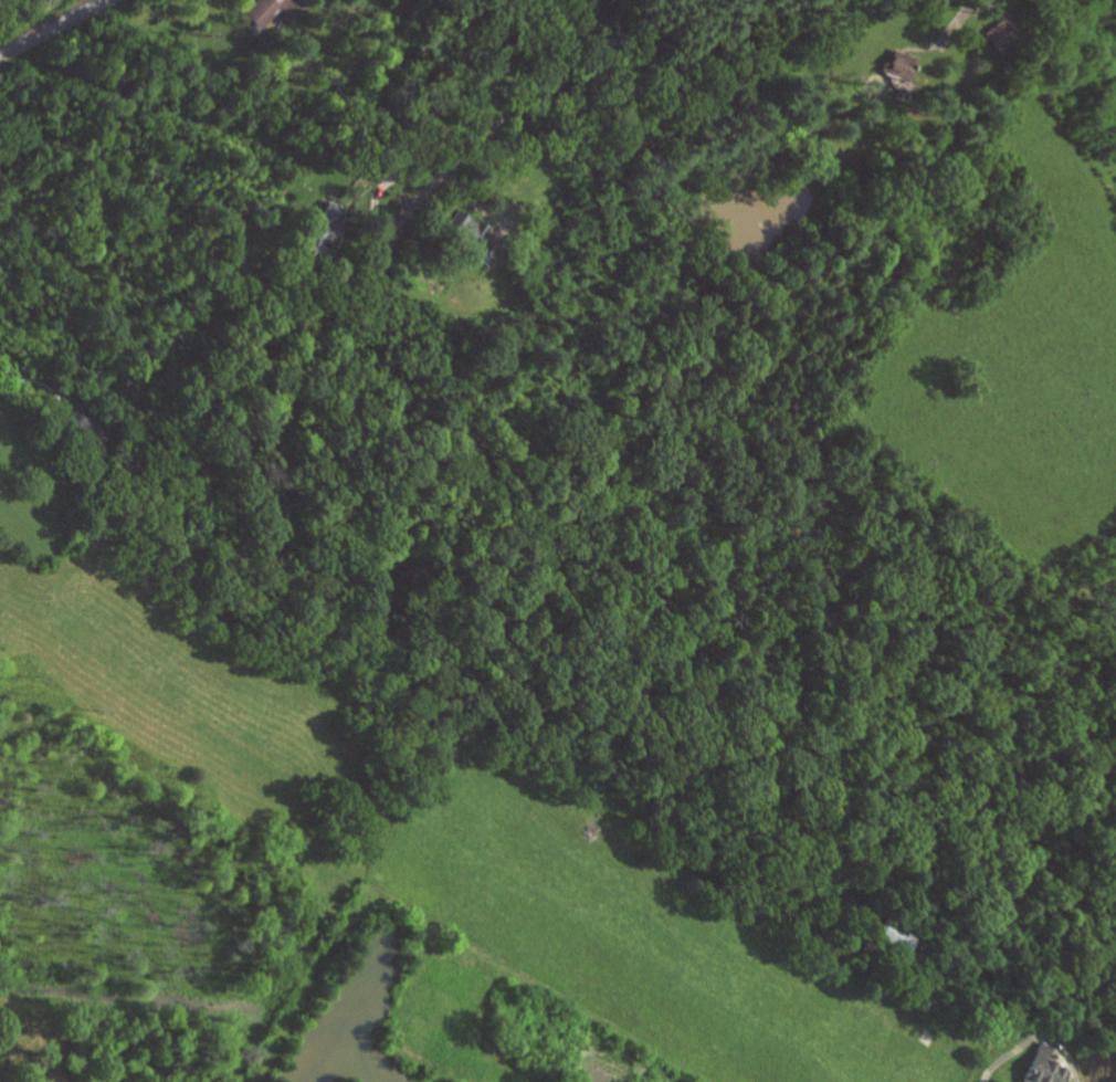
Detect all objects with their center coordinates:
building: (266, 10)
road: (53, 28)
building: (1000, 33)
building: (898, 65)
road: (540, 99)
building: (322, 230)
building: (471, 233)
road: (27, 374)
building: (85, 419)
building: (895, 935)
road: (1036, 1038)
building: (1045, 1068)

